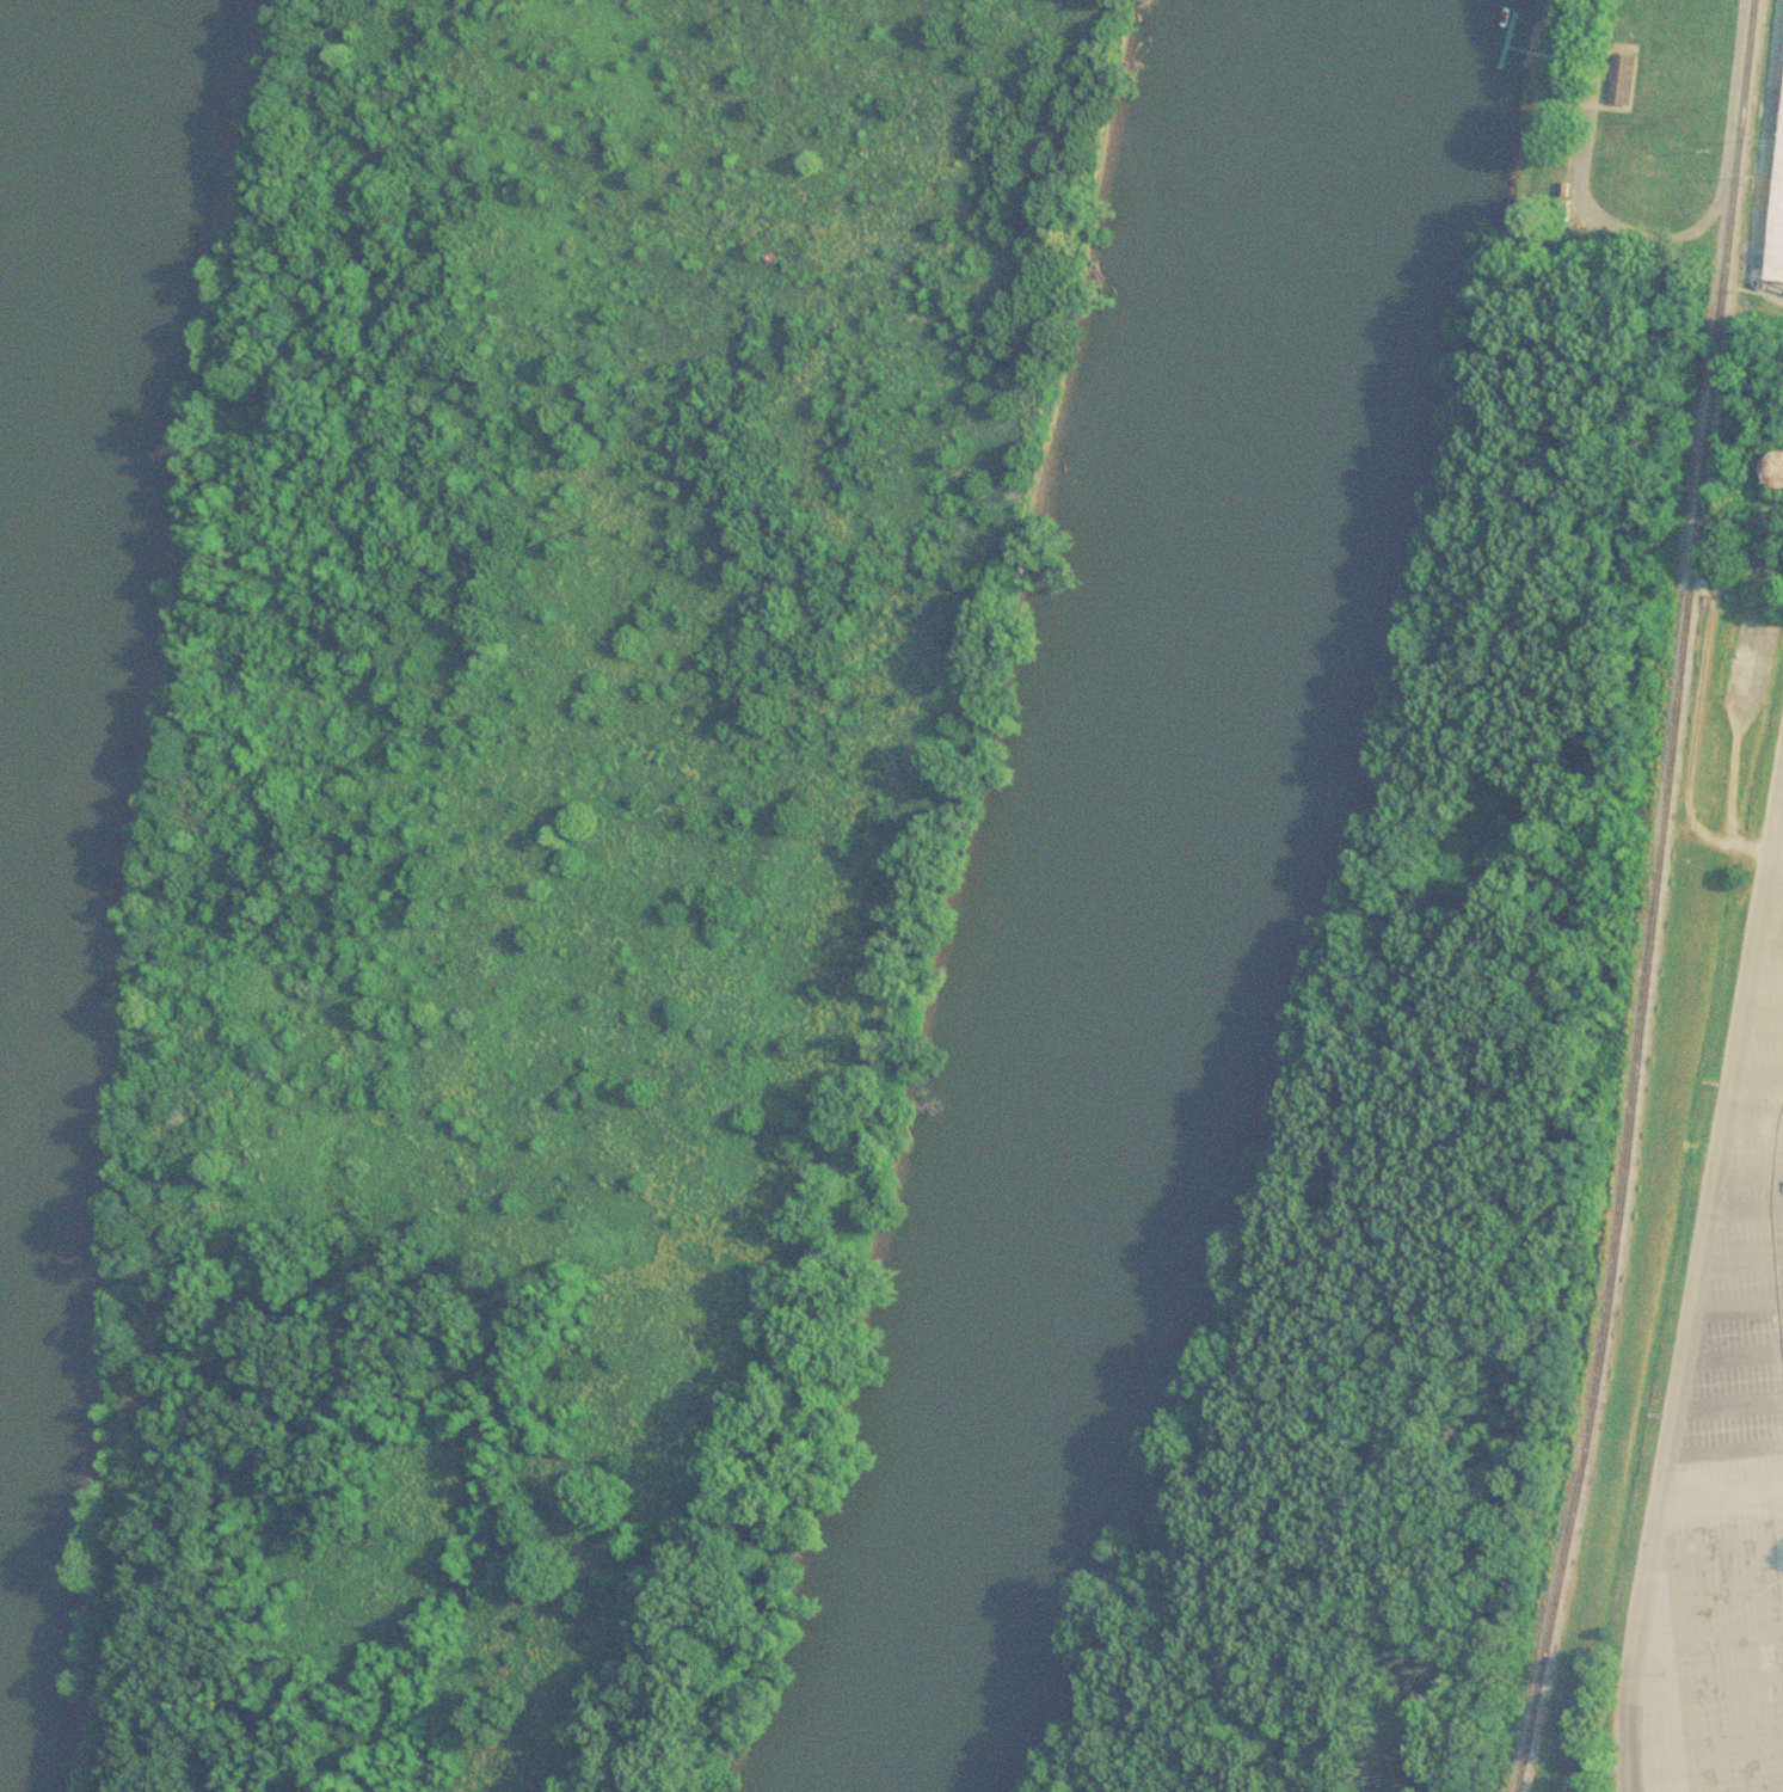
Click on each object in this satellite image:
building: (1567, 66)
road: (1762, 158)
building: (1773, 188)
building: (1775, 470)
railway: (1655, 898)
road: (1750, 1000)
parking lot: (1728, 1457)
road: (1662, 1492)

